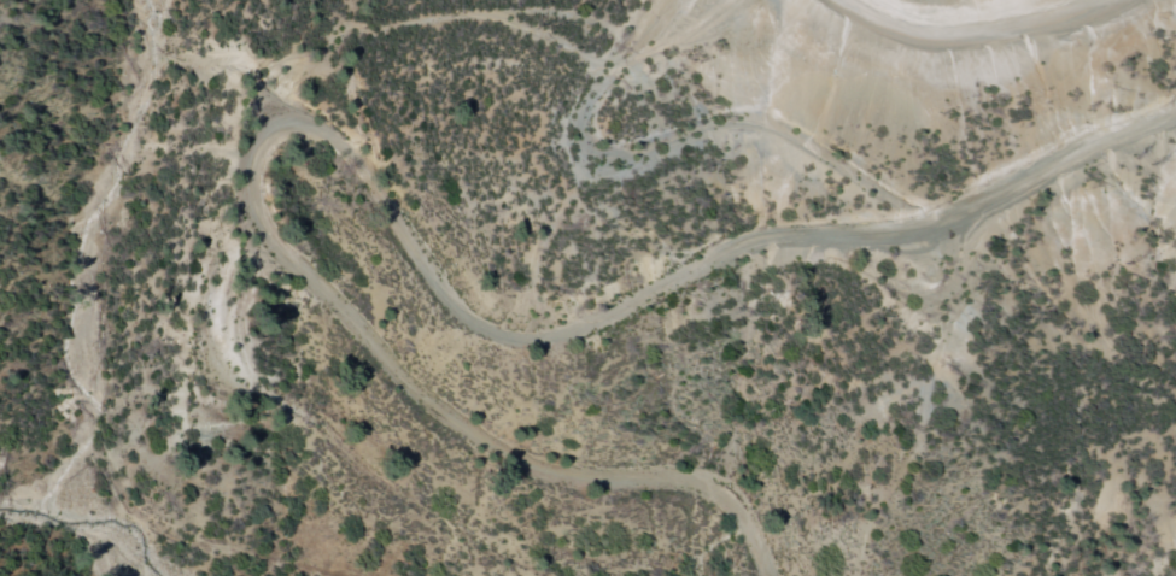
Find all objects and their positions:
road: (988, 88)
road: (452, 276)

